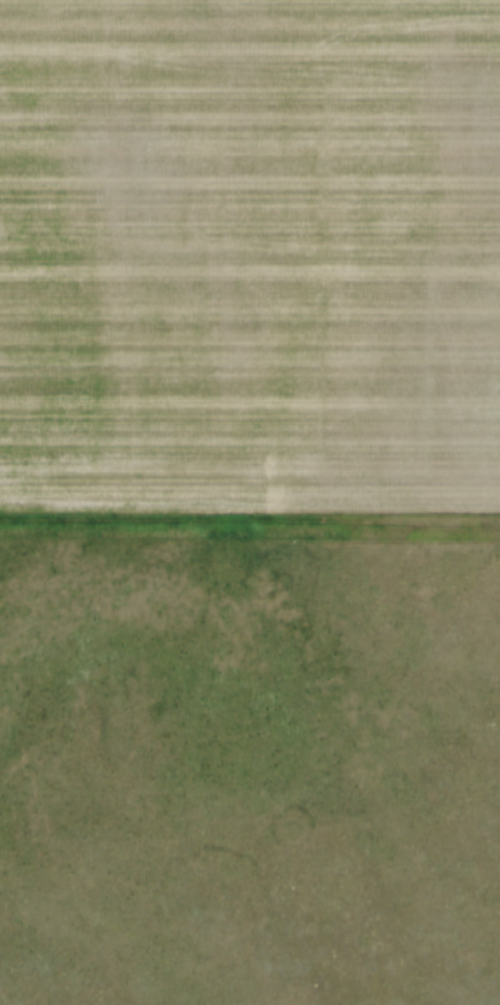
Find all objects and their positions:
road: (250, 519)

